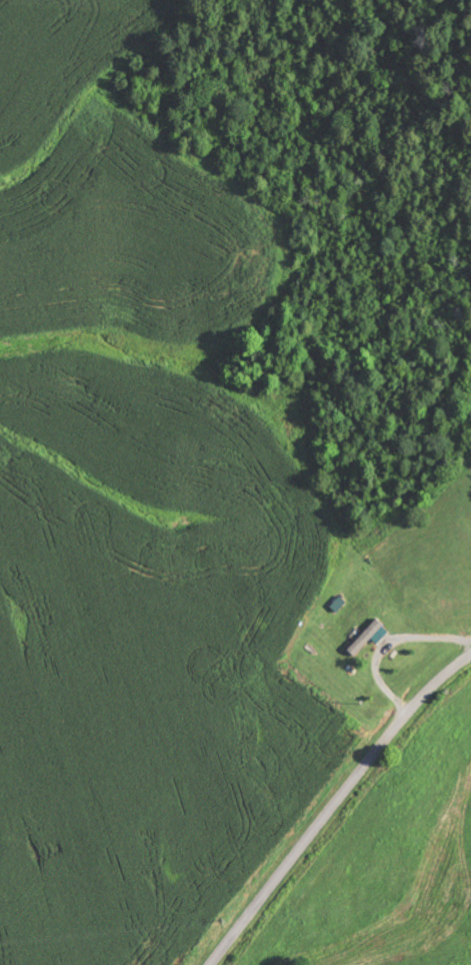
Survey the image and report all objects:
road: (333, 805)

